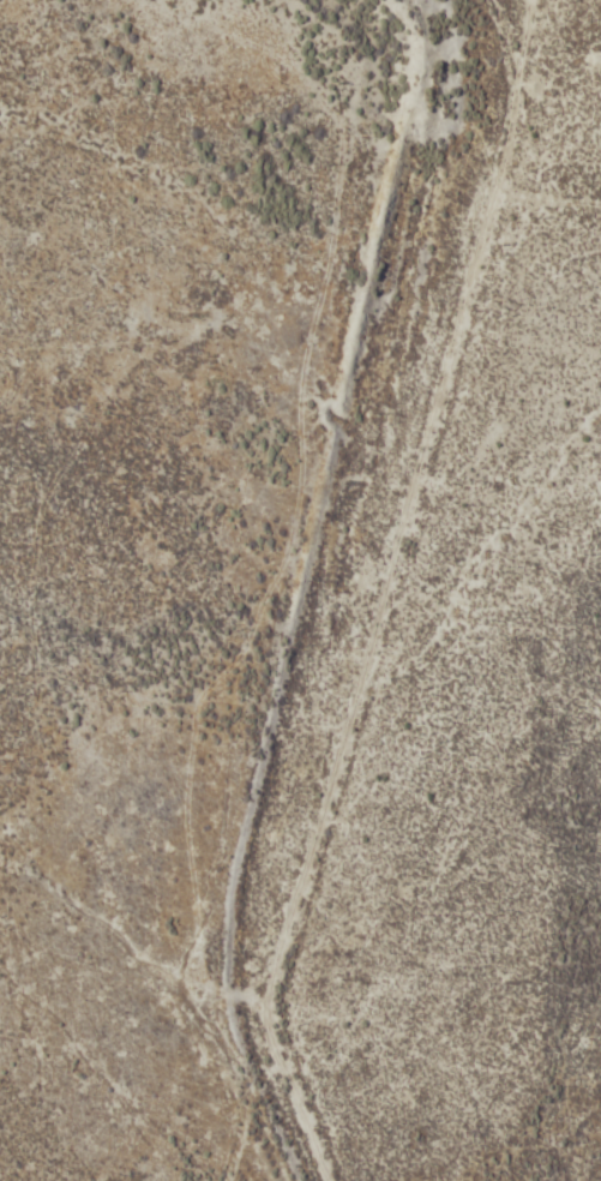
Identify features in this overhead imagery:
crop: (300, 590)
road: (522, 597)

